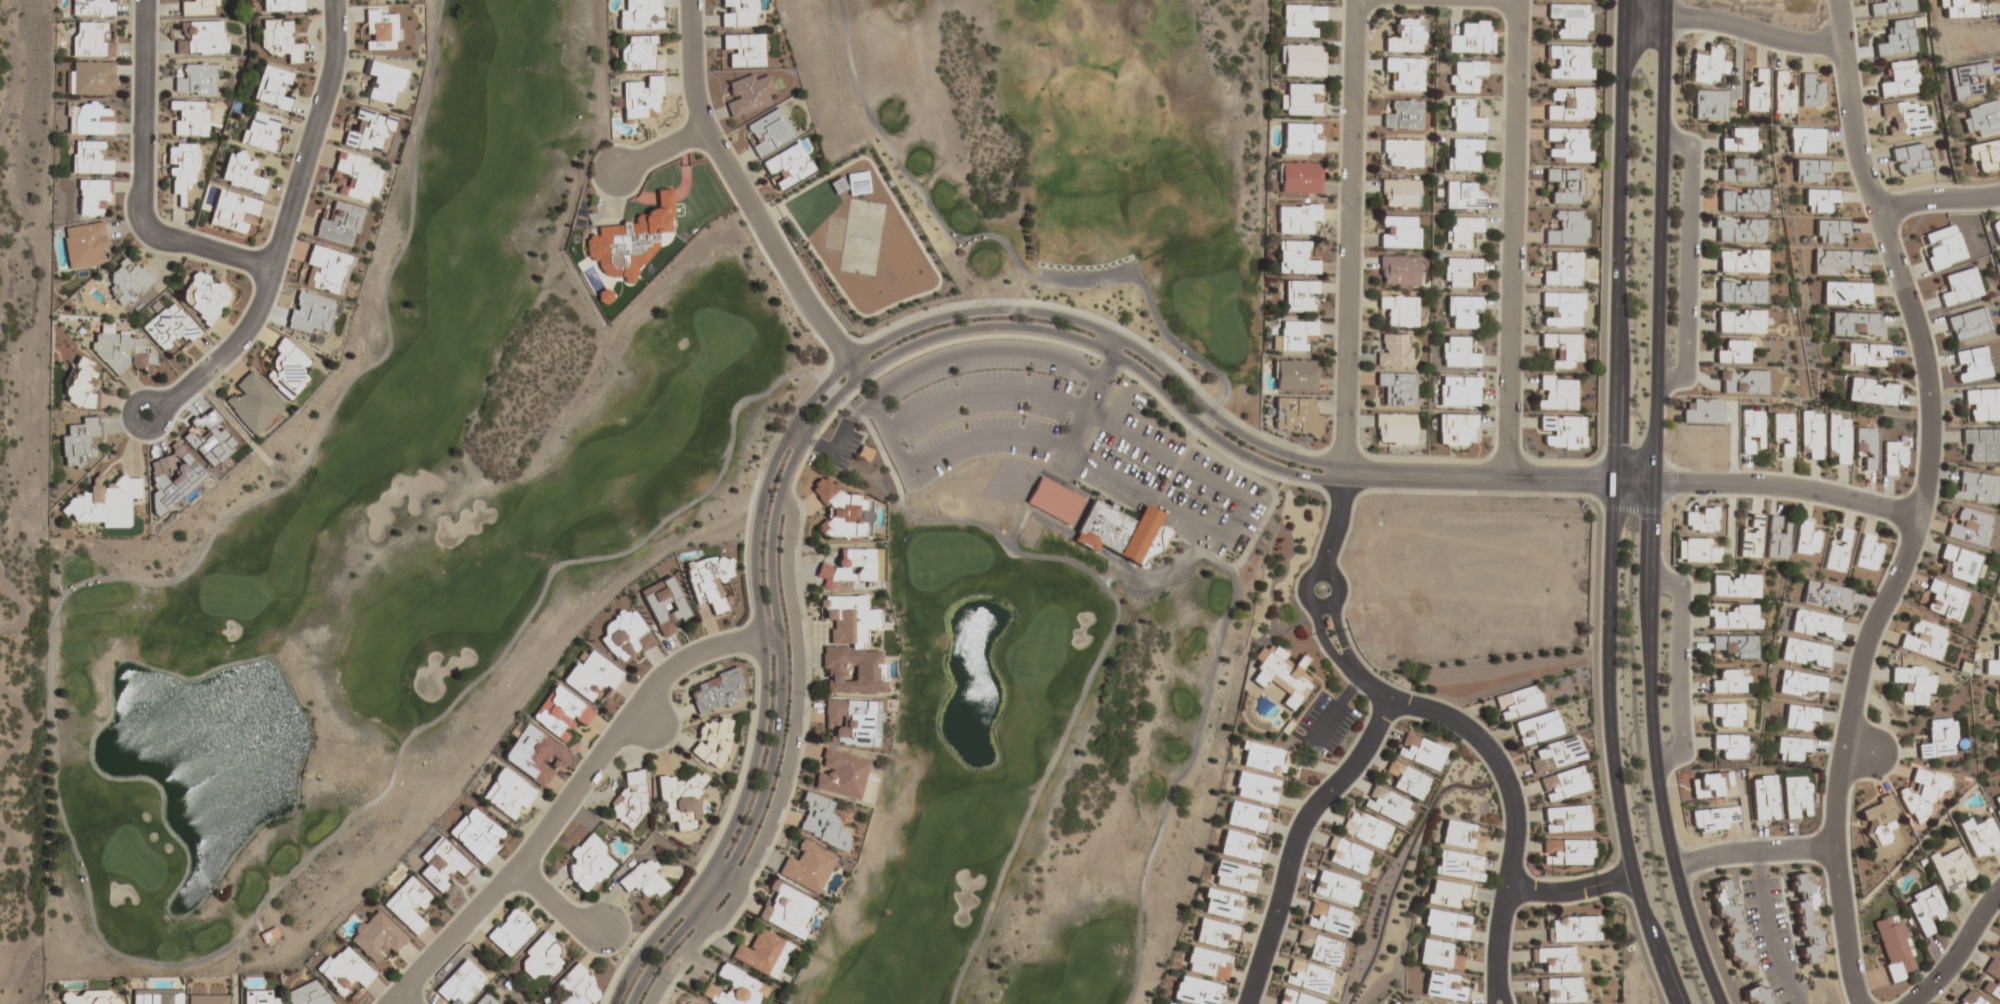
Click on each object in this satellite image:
building: (282, 5)
building: (198, 7)
building: (1891, 7)
building: (92, 8)
building: (1955, 8)
building: (737, 13)
building: (640, 15)
building: (1299, 20)
building: (1571, 20)
building: (380, 30)
road: (1734, 33)
building: (1405, 36)
building: (201, 38)
building: (1471, 38)
building: (90, 40)
building: (278, 40)
building: (744, 50)
street lamp: (348, 55)
building: (639, 55)
building: (1301, 61)
building: (1570, 62)
building: (1705, 65)
building: (1405, 73)
building: (1465, 76)
building: (91, 78)
street lamp: (1606, 78)
building: (1900, 79)
building: (196, 80)
building: (1967, 80)
building: (383, 82)
road: (18, 84)
building: (271, 87)
building: (1809, 92)
building: (1756, 93)
building: (749, 94)
building: (1781, 95)
building: (641, 99)
building: (1301, 100)
building: (1568, 104)
building: (1709, 105)
building: (1403, 115)
building: (1463, 116)
building: (189, 117)
building: (1906, 118)
building: (1982, 119)
building: (91, 120)
building: (260, 131)
building: (370, 132)
building: (768, 132)
street lamp: (157, 139)
building: (1300, 139)
building: (1738, 140)
building: (1806, 140)
building: (1566, 145)
road: (659, 151)
building: (1400, 153)
building: (1464, 155)
building: (1985, 155)
building: (89, 158)
building: (1910, 159)
street lamp: (1671, 162)
building: (787, 166)
building: (181, 169)
building: (1809, 170)
building: (1737, 171)
building: (241, 173)
building: (356, 177)
building: (1299, 177)
road: (141, 179)
building: (1564, 185)
building: (1399, 193)
building: (92, 196)
building: (1462, 196)
road: (744, 198)
building: (1741, 200)
building: (1818, 200)
road: (1939, 202)
building: (231, 210)
building: (1296, 218)
road: (285, 223)
building: (339, 224)
street lamp: (192, 229)
building: (1567, 230)
building: (1738, 230)
building: (1829, 230)
building: (1996, 231)
building: (1398, 232)
building: (1461, 232)
road: (1348, 237)
street lamp: (1901, 237)
building: (630, 240)
road: (1510, 240)
street lamp: (1701, 244)
building: (84, 245)
building: (1943, 248)
building: (1295, 258)
street lamp: (1601, 260)
building: (1740, 261)
building: (1837, 262)
road: (1687, 263)
building: (326, 270)
building: (1399, 270)
building: (1563, 270)
building: (1459, 272)
building: (126, 282)
street lamp: (282, 283)
road: (1094, 284)
building: (1960, 287)
road: (4, 289)
building: (1739, 291)
building: (1845, 293)
building: (601, 296)
building: (1300, 296)
building: (203, 297)
building: (1560, 309)
building: (1398, 312)
building: (1462, 312)
building: (310, 314)
building: (1739, 321)
building: (1856, 324)
building: (1968, 324)
building: (169, 327)
building: (1295, 335)
road: (1117, 347)
building: (1562, 349)
building: (1393, 351)
building: (121, 352)
building: (1733, 352)
building: (1457, 353)
building: (1864, 355)
street lamp: (1667, 359)
building: (1971, 364)
building: (286, 370)
building: (1294, 375)
building: (1742, 382)
building: (81, 385)
building: (1397, 390)
street lamp: (127, 392)
building: (1458, 392)
building: (1871, 392)
building: (1556, 393)
building: (252, 404)
building: (1982, 405)
building: (1703, 412)
building: (1294, 416)
road: (795, 421)
street lamp: (1944, 426)
road: (141, 429)
building: (1394, 429)
building: (1456, 430)
building: (1752, 430)
building: (1562, 432)
building: (1783, 432)
building: (1811, 434)
road: (808, 436)
street lamp: (1598, 436)
parking lot: (1069, 438)
building: (1839, 438)
building: (78, 442)
road: (984, 442)
building: (1981, 444)
building: (1866, 446)
building: (1892, 456)
park: (1043, 467)
street lamp: (1797, 474)
park: (22, 475)
road: (1497, 480)
building: (1977, 489)
road: (1785, 492)
street lamp: (1396, 495)
street lamp: (1547, 498)
building: (103, 502)
road: (1919, 502)
road: (1614, 506)
road: (1653, 506)
building: (843, 513)
building: (1699, 521)
street lamp: (1663, 526)
building: (1969, 527)
building: (1110, 528)
park: (395, 532)
building: (1777, 537)
building: (1750, 538)
street lamp: (795, 539)
building: (1804, 539)
building: (1696, 551)
building: (1837, 552)
building: (1866, 553)
building: (1959, 564)
building: (847, 568)
building: (709, 581)
building: (1733, 585)
road: (2, 588)
building: (1827, 596)
building: (1944, 601)
street lamp: (1901, 602)
building: (663, 605)
road: (23, 606)
building: (1730, 617)
street lamp: (1592, 622)
building: (1817, 625)
building: (625, 636)
building: (1923, 640)
building: (1734, 646)
building: (849, 648)
building: (1806, 653)
street lamp: (735, 657)
building: (1993, 663)
street lamp: (1691, 665)
building: (1281, 675)
building: (591, 677)
building: (1730, 682)
building: (1799, 684)
building: (1912, 684)
building: (717, 691)
road: (799, 693)
street lamp: (805, 695)
street lamp: (1334, 696)
building: (1517, 702)
building: (560, 713)
building: (1726, 714)
street lamp: (1364, 715)
road: (1198, 716)
street lamp: (1662, 717)
building: (1799, 717)
road: (644, 721)
road: (1444, 721)
building: (852, 722)
road: (30, 725)
building: (1537, 728)
street lamp: (1302, 732)
building: (1938, 739)
building: (712, 742)
building: (1730, 746)
building: (1791, 748)
building: (1419, 752)
building: (533, 755)
building: (1555, 755)
building: (1264, 758)
street lamp: (579, 759)
street lamp: (1900, 760)
building: (840, 774)
building: (1406, 780)
building: (1562, 784)
building: (1709, 785)
building: (1255, 788)
road: (1033, 792)
building: (507, 794)
building: (1922, 794)
road: (570, 795)
building: (1796, 797)
building: (1765, 798)
building: (628, 802)
building: (680, 802)
building: (1385, 805)
building: (1996, 806)
street lamp: (1603, 815)
building: (1246, 817)
building: (1564, 819)
building: (1713, 820)
building: (821, 823)
street lamp: (1318, 826)
building: (1881, 828)
building: (1364, 830)
building: (474, 835)
building: (1462, 837)
street lamp: (1753, 837)
building: (1979, 837)
road: (1300, 843)
road: (7, 846)
building: (1239, 847)
building: (1565, 852)
road: (1753, 852)
building: (1347, 856)
building: (587, 863)
building: (441, 864)
building: (1459, 866)
street lamp: (757, 867)
building: (806, 868)
building: (1951, 869)
street lamp: (1851, 873)
building: (1233, 876)
building: (643, 881)
street lamp: (1983, 887)
building: (1335, 889)
road: (1572, 891)
building: (1448, 894)
street lamp: (505, 900)
street lamp: (1694, 900)
building: (407, 905)
road: (556, 905)
road: (728, 906)
building: (1224, 906)
road: (30, 908)
building: (1925, 909)
building: (785, 910)
building: (1804, 915)
building: (1327, 919)
building: (1730, 924)
building: (1446, 925)
building: (1571, 929)
building: (509, 932)
building: (1215, 933)
building: (268, 936)
building: (375, 936)
street lamp: (421, 948)
building: (1894, 948)
road: (1956, 948)
building: (1319, 949)
street lamp: (582, 950)
building: (1998, 950)
street lamp: (1278, 951)
road: (209, 952)
building: (762, 953)
building: (1439, 956)
building: (540, 957)
building: (1555, 959)
street lamp: (1641, 960)
road: (677, 962)
building: (1207, 964)
building: (343, 970)
building: (1306, 978)
building: (1992, 980)
building: (459, 984)
street lamp: (669, 984)
building: (574, 986)
building: (1444, 987)
building: (733, 988)
building: (1560, 990)
building: (1195, 991)
building: (306, 994)
building: (1757, 994)
building: (84, 996)
building: (155, 997)
building: (257, 997)
building: (1295, 998)
building: (1969, 998)
building: (207, 999)
building: (485, 999)
road: (404, 1000)
street lamp: (1884, 1001)
building: (1394, 1003)

